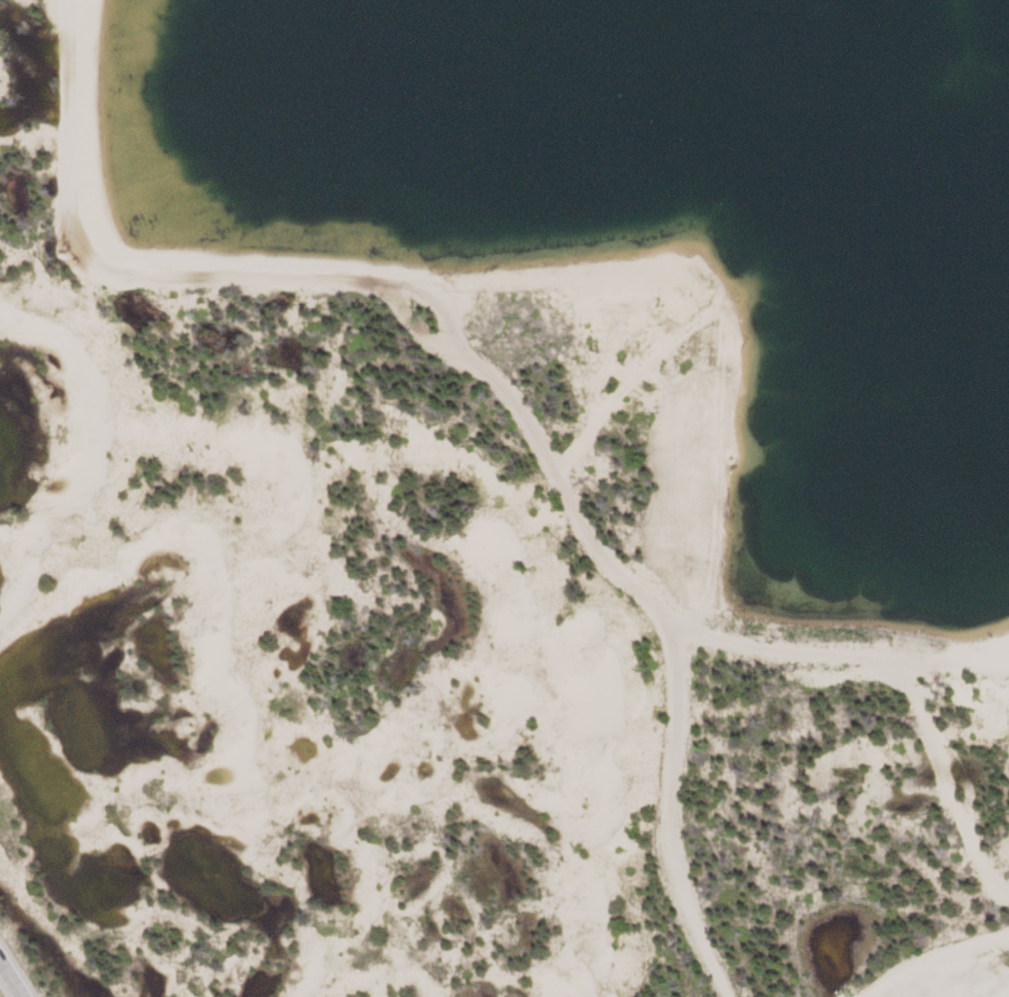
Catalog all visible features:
park: (504, 498)
road: (12, 976)

